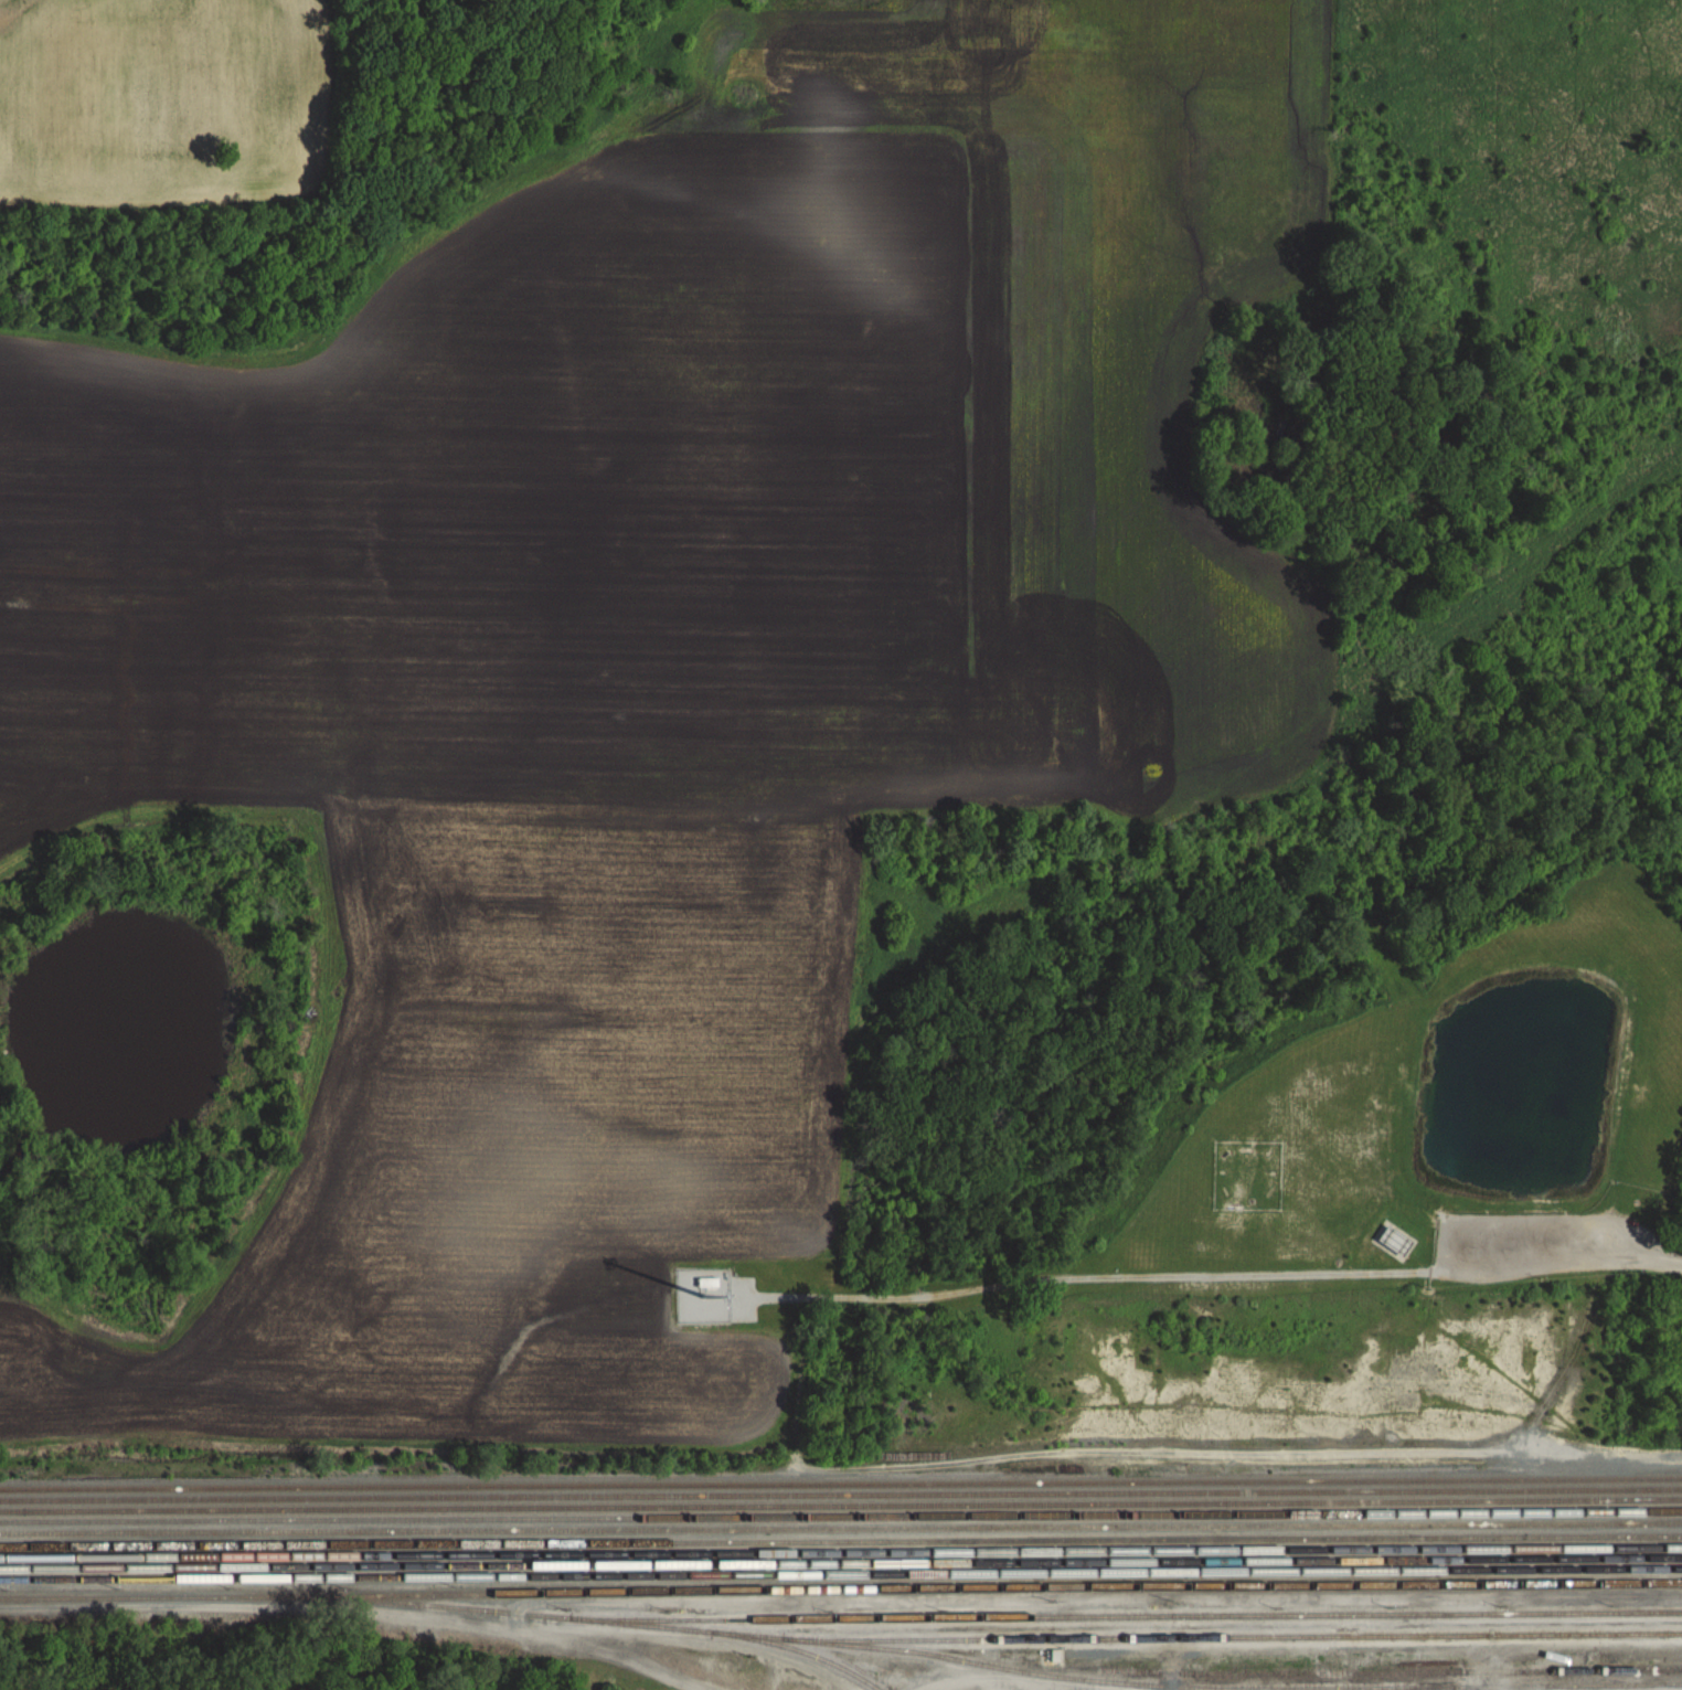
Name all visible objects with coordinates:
road: (1647, 1258)
railway: (1520, 1479)
railway: (679, 1487)
railway: (1521, 1491)
railway: (680, 1500)
railway: (1521, 1501)
railway: (680, 1509)
railway: (840, 1517)
railway: (840, 1529)
railway: (841, 1543)
railway: (841, 1556)
railway: (841, 1564)
railway: (840, 1575)
railway: (840, 1591)
road: (351, 1609)
railway: (1126, 1617)
railway: (1235, 1638)
railway: (800, 1650)
railway: (1002, 1667)
railway: (1385, 1672)
road: (1005, 1680)
railway: (1443, 1689)

